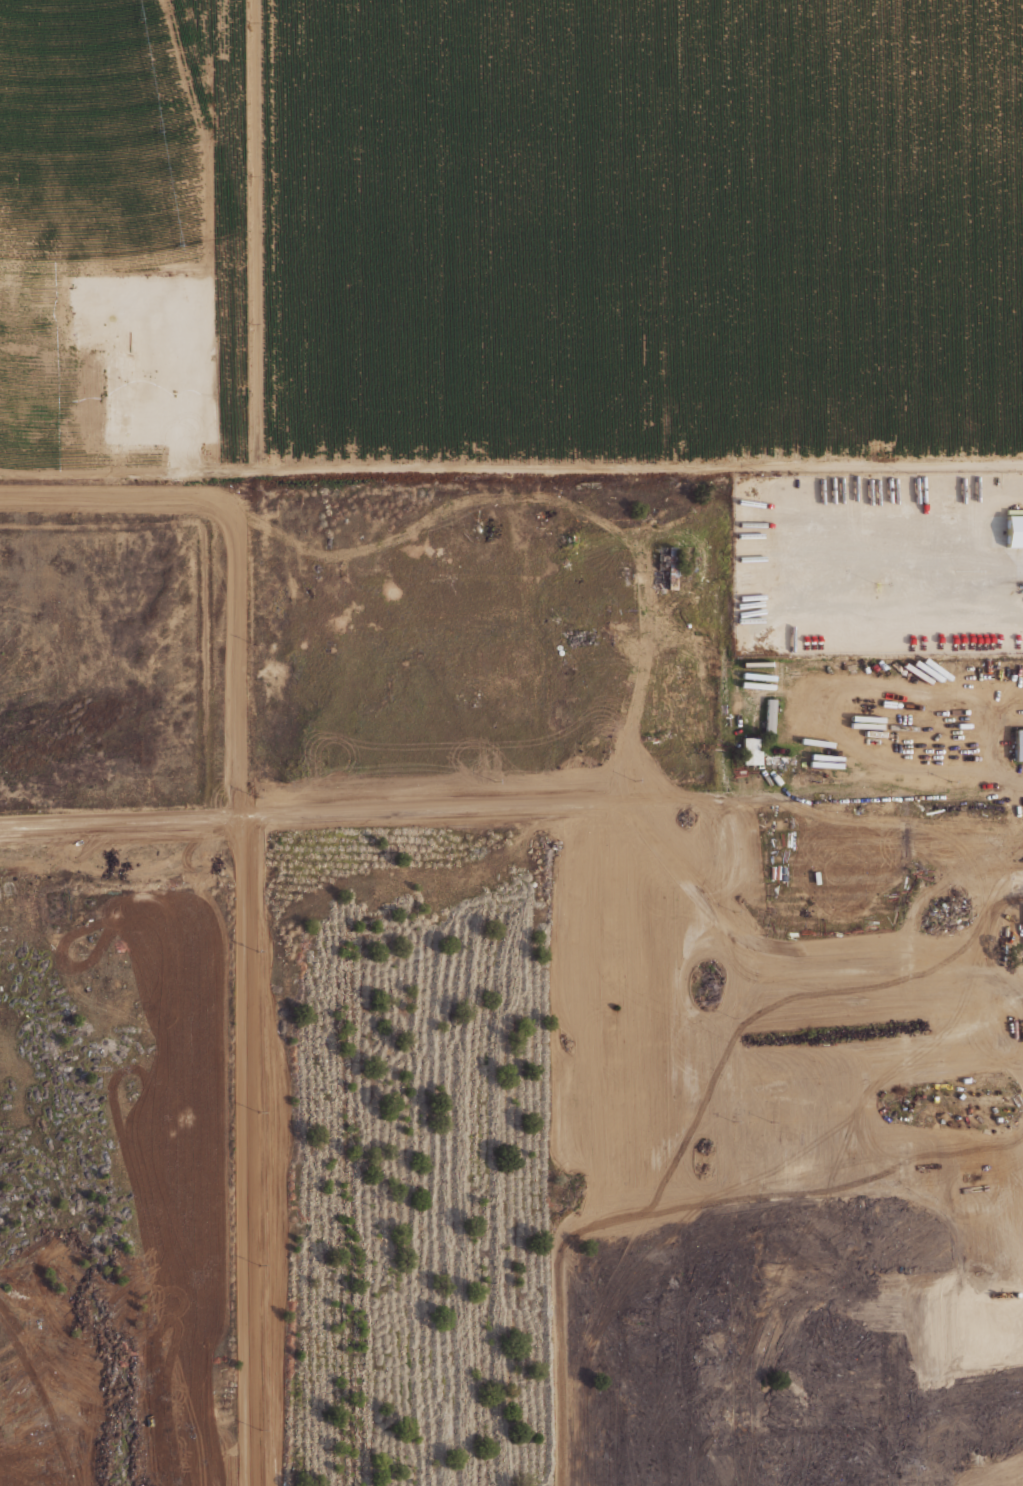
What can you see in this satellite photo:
crop: (125, 228)
road: (207, 249)
road: (511, 469)
building: (1013, 530)
road: (923, 573)
building: (769, 716)
building: (1016, 743)
building: (750, 750)
road: (545, 807)
road: (244, 1152)

